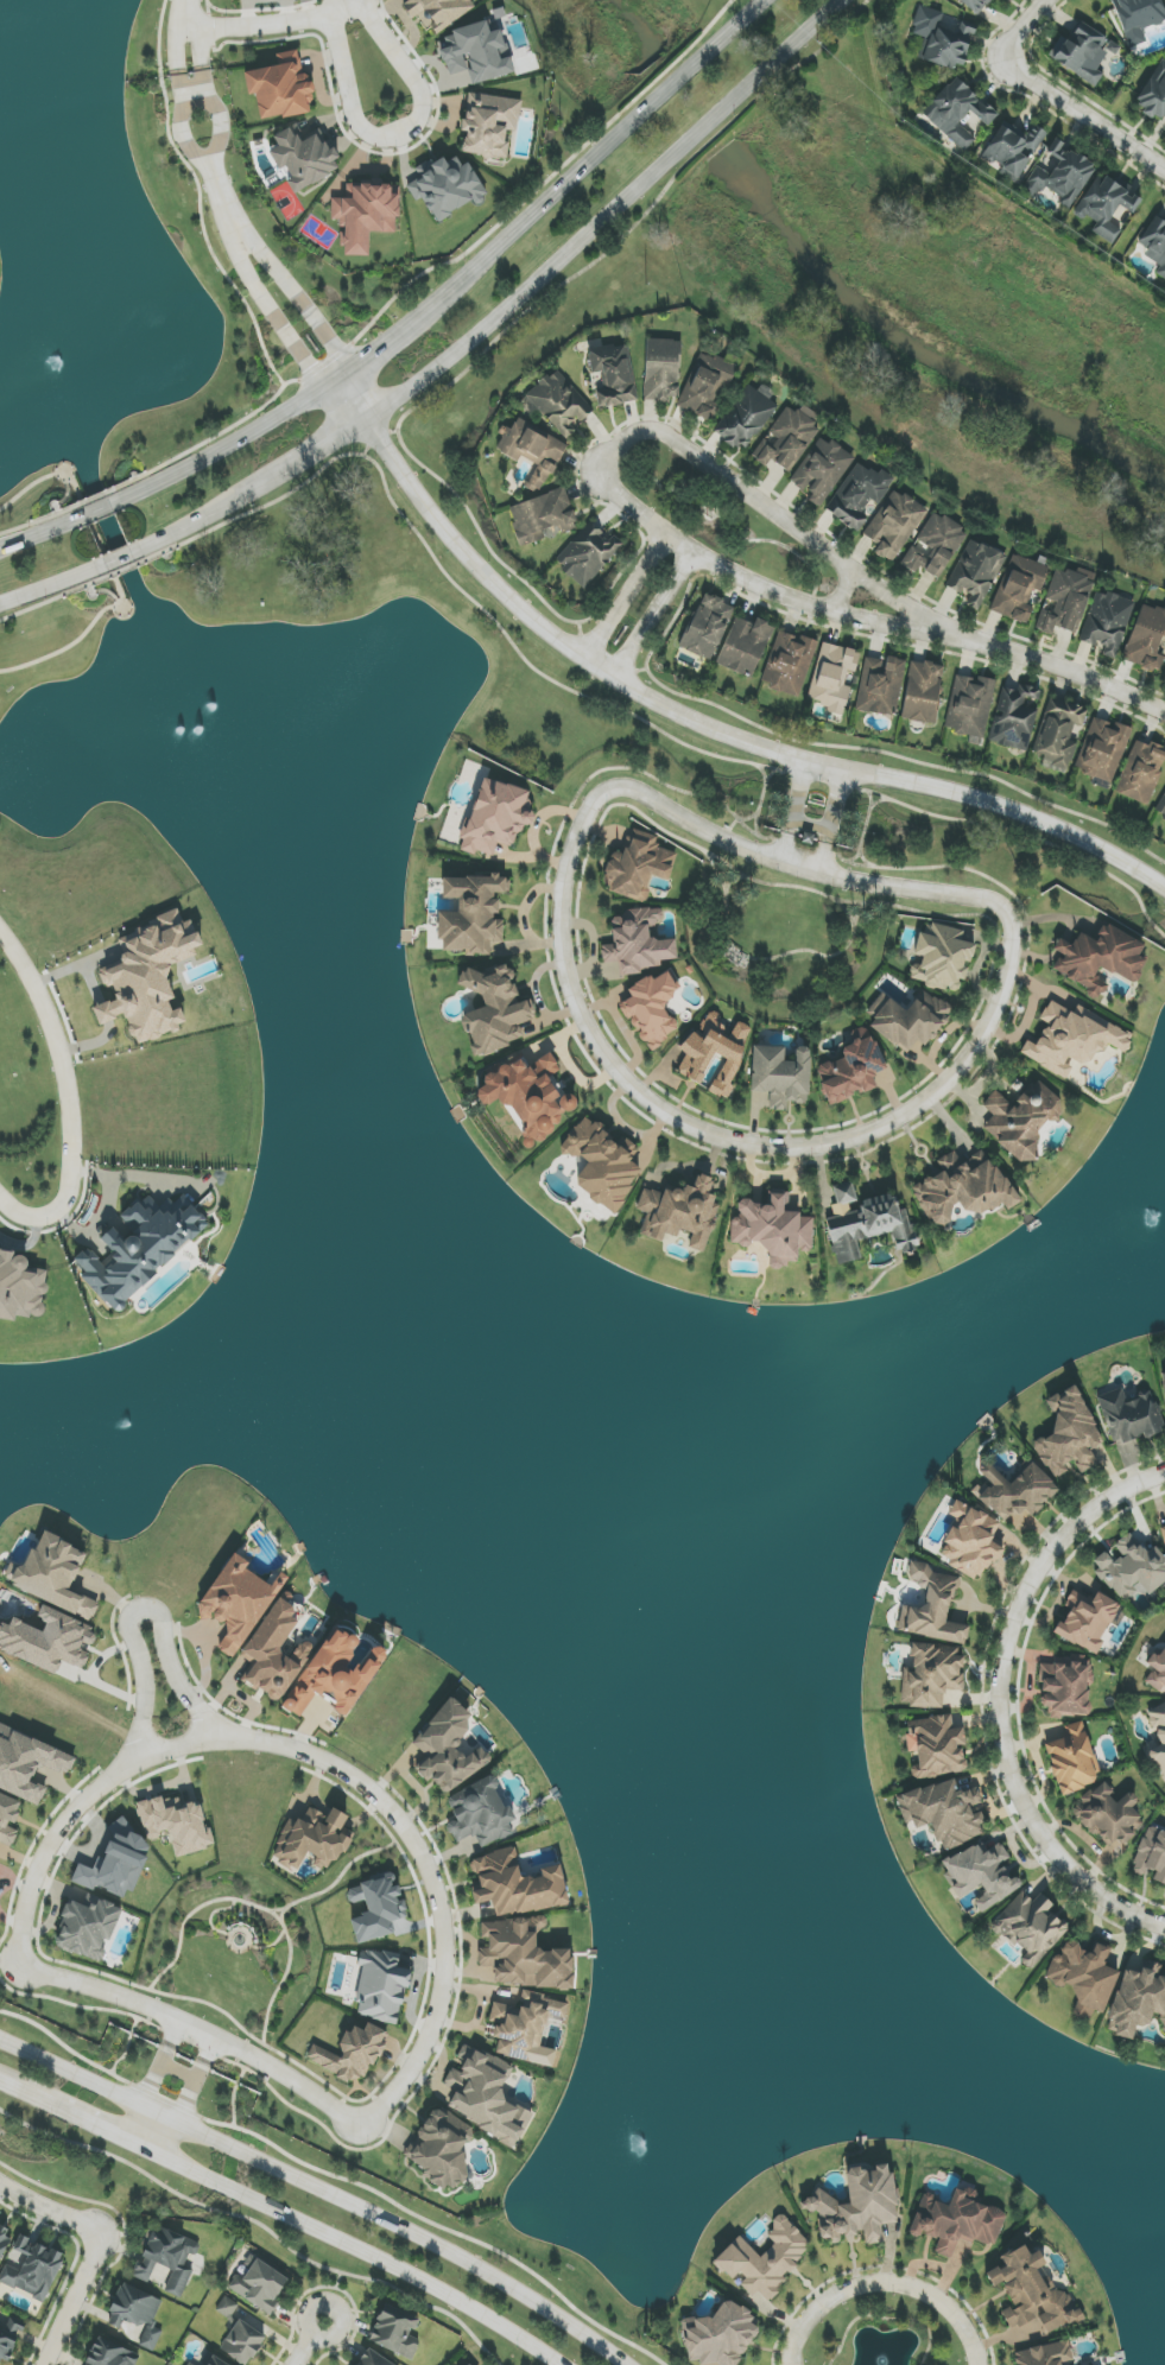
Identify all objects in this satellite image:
building: (976, 5)
building: (438, 11)
road: (186, 13)
building: (1138, 18)
road: (260, 25)
road: (1020, 26)
road: (188, 27)
building: (1083, 52)
building: (475, 53)
building: (280, 87)
building: (1154, 94)
building: (957, 112)
road: (216, 116)
road: (1083, 120)
road: (183, 121)
building: (489, 125)
road: (411, 129)
building: (1013, 148)
road: (599, 156)
building: (303, 159)
building: (1060, 175)
building: (445, 186)
road: (224, 198)
building: (1107, 208)
building: (365, 214)
road: (609, 215)
building: (1155, 243)
road: (433, 268)
road: (298, 300)
road: (276, 312)
road: (385, 348)
fountain: (51, 361)
building: (661, 369)
building: (612, 374)
building: (705, 386)
building: (746, 417)
building: (787, 438)
road: (226, 446)
building: (532, 449)
road: (321, 451)
road: (607, 455)
building: (822, 470)
road: (64, 476)
road: (30, 487)
building: (859, 496)
road: (93, 500)
road: (272, 503)
road: (57, 509)
road: (99, 511)
building: (542, 516)
road: (204, 518)
road: (39, 520)
building: (894, 525)
road: (477, 531)
road: (43, 532)
road: (99, 538)
building: (935, 546)
building: (587, 554)
road: (119, 559)
road: (124, 570)
building: (976, 572)
road: (52, 584)
building: (1019, 589)
road: (91, 590)
road: (620, 594)
road: (53, 598)
building: (1065, 601)
road: (120, 604)
road: (651, 615)
building: (1107, 622)
building: (707, 627)
building: (1147, 639)
building: (745, 646)
road: (68, 647)
road: (607, 653)
road: (525, 662)
building: (789, 662)
road: (1049, 664)
building: (835, 678)
building: (880, 685)
fountain: (211, 691)
building: (922, 692)
building: (970, 706)
road: (699, 714)
building: (1015, 717)
fountain: (166, 719)
fountain: (200, 719)
building: (1058, 734)
building: (1102, 749)
road: (894, 757)
building: (1141, 772)
road: (792, 804)
building: (1160, 809)
road: (836, 817)
building: (495, 818)
road: (998, 829)
building: (638, 867)
building: (471, 914)
road: (4, 943)
building: (637, 943)
building: (941, 959)
building: (1100, 959)
building: (148, 977)
road: (576, 1006)
building: (652, 1008)
building: (494, 1009)
building: (907, 1019)
building: (1069, 1040)
building: (697, 1055)
building: (851, 1069)
building: (781, 1076)
building: (528, 1096)
road: (69, 1097)
building: (1022, 1118)
building: (601, 1165)
building: (963, 1188)
building: (844, 1193)
building: (680, 1212)
fountain: (1150, 1223)
building: (870, 1228)
building: (773, 1229)
building: (141, 1249)
building: (20, 1288)
building: (1164, 1381)
building: (1131, 1415)
fountain: (126, 1422)
building: (1069, 1433)
building: (1014, 1490)
building: (1163, 1533)
building: (970, 1541)
building: (1132, 1568)
building: (52, 1575)
building: (236, 1603)
building: (932, 1608)
road: (133, 1615)
building: (1087, 1618)
building: (48, 1641)
building: (276, 1653)
building: (1157, 1670)
building: (336, 1674)
building: (931, 1675)
building: (1065, 1687)
road: (999, 1699)
building: (1158, 1737)
building: (936, 1746)
building: (445, 1749)
building: (1072, 1761)
road: (321, 1762)
building: (29, 1763)
building: (944, 1812)
building: (481, 1813)
building: (1108, 1814)
building: (8, 1819)
building: (176, 1822)
building: (312, 1839)
building: (1152, 1854)
building: (980, 1875)
building: (515, 1885)
building: (355, 1895)
building: (378, 1910)
building: (1031, 1927)
building: (88, 1928)
building: (523, 1955)
building: (1084, 1977)
building: (380, 1986)
building: (1136, 2002)
building: (524, 2025)
building: (1164, 2029)
road: (196, 2031)
building: (352, 2053)
road: (159, 2062)
road: (177, 2073)
road: (196, 2080)
road: (18, 2087)
building: (485, 2095)
road: (87, 2118)
road: (147, 2125)
building: (441, 2149)
road: (335, 2177)
road: (318, 2188)
road: (51, 2207)
building: (859, 2207)
building: (957, 2223)
road: (259, 2224)
building: (4, 2240)
road: (352, 2246)
building: (165, 2259)
building: (765, 2259)
road: (882, 2268)
building: (31, 2269)
road: (882, 2282)
building: (259, 2284)
road: (336, 2288)
building: (1032, 2293)
road: (76, 2299)
building: (227, 2308)
building: (137, 2315)
road: (885, 2318)
road: (308, 2326)
building: (395, 2332)
building: (720, 2335)
building: (6, 2344)
road: (303, 2350)
building: (1044, 2354)
building: (109, 2356)
building: (373, 2359)
building: (211, 2360)
building: (191, 2363)
building: (469, 2364)
fountain: (881, 2364)

